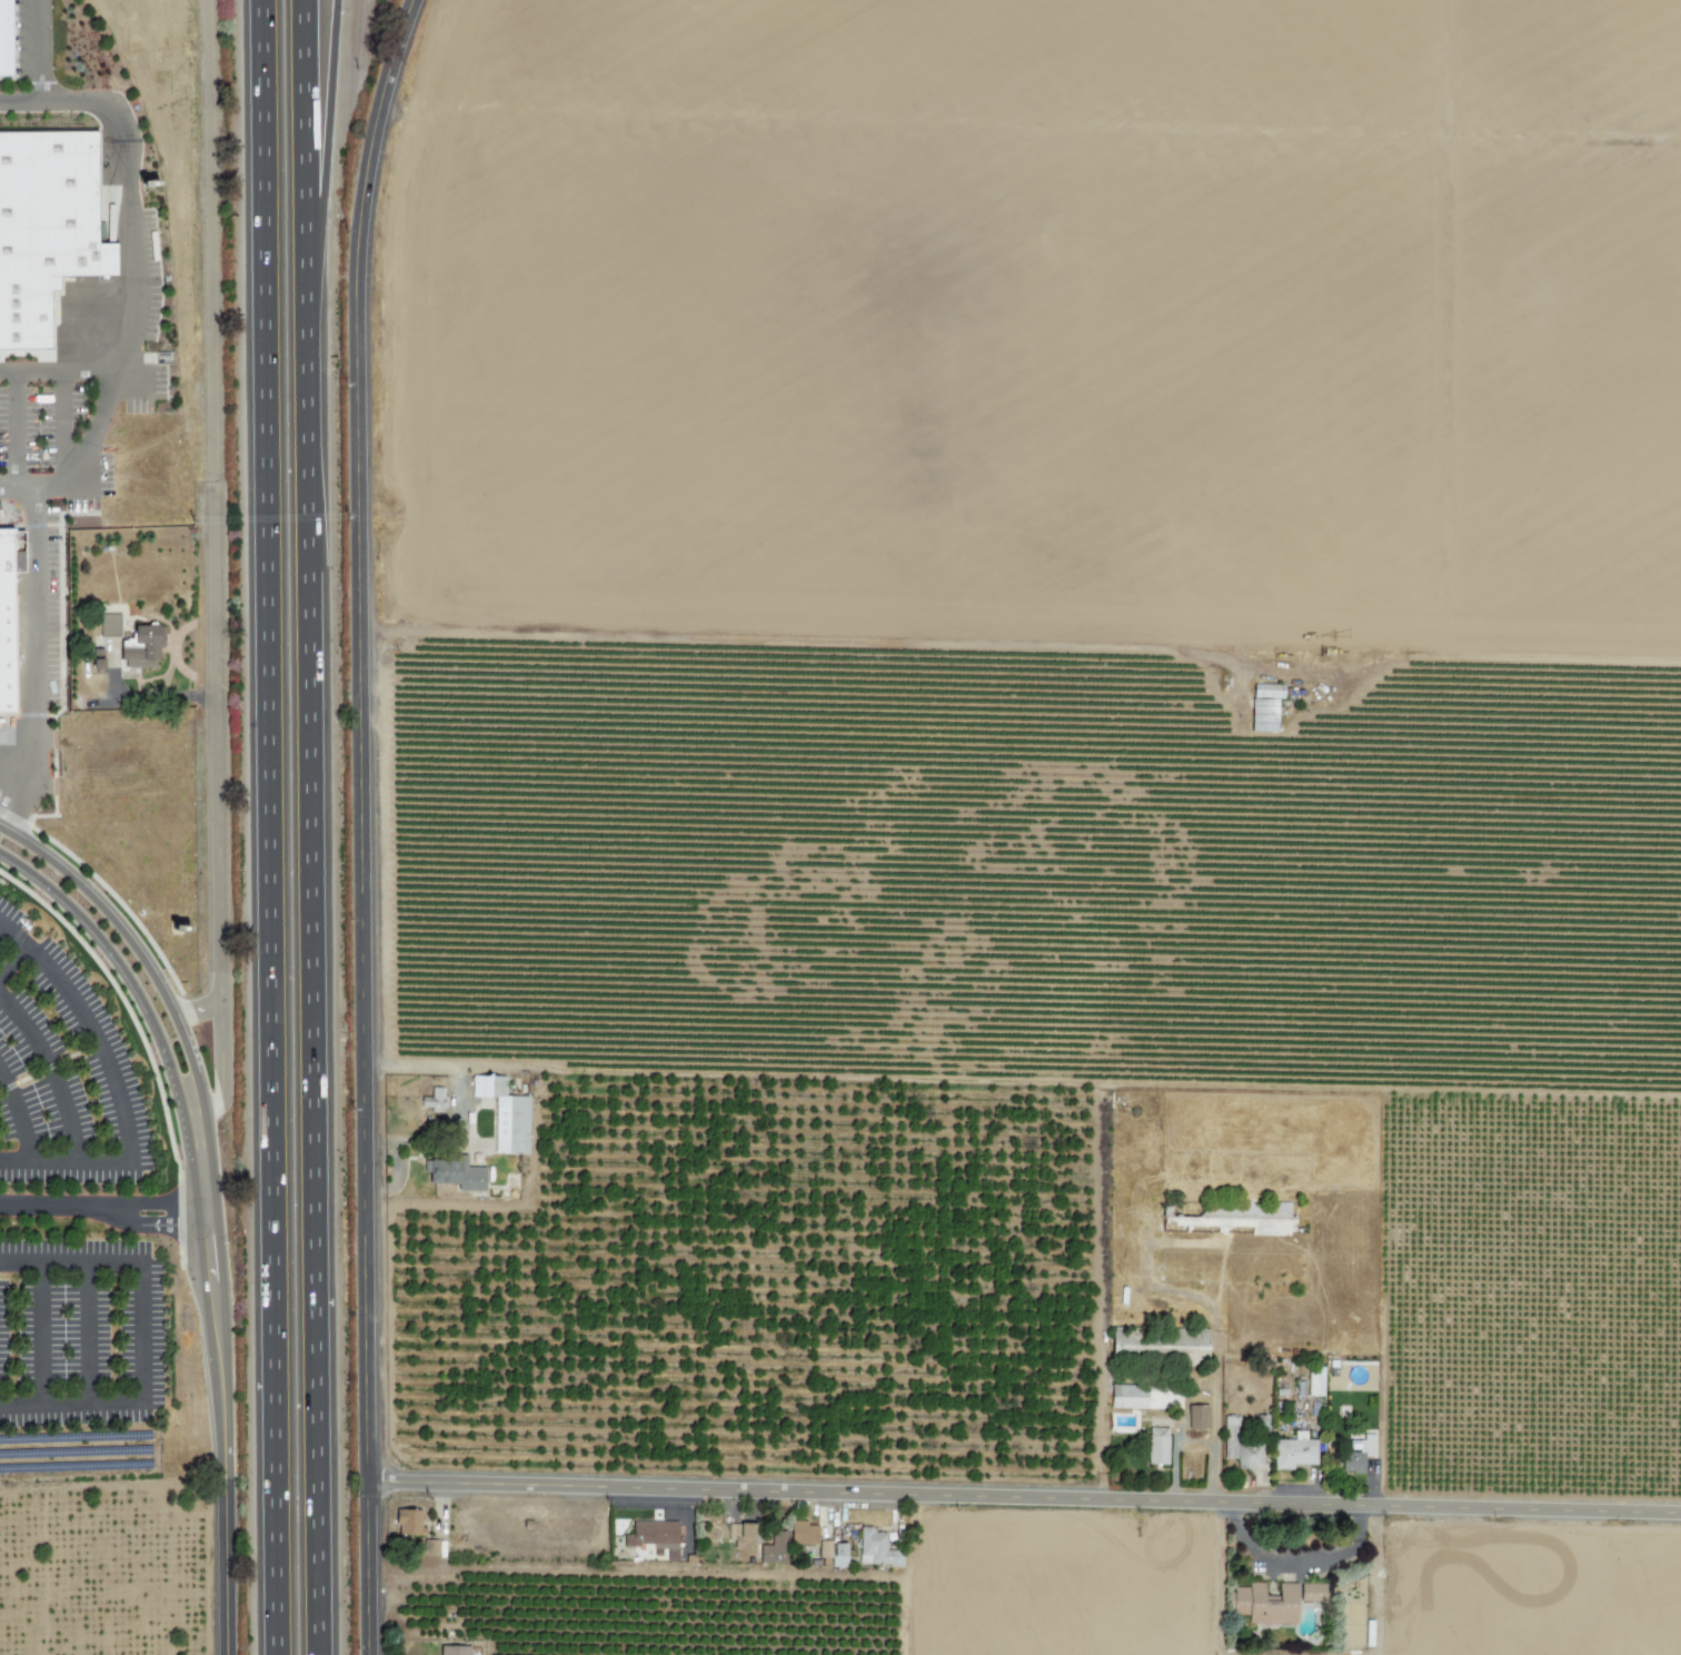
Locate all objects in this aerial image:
building: (4, 37)
road: (40, 48)
road: (57, 97)
road: (321, 126)
building: (44, 227)
road: (131, 333)
road: (59, 368)
road: (64, 425)
road: (14, 430)
road: (217, 564)
building: (6, 618)
building: (109, 625)
road: (798, 637)
building: (140, 646)
road: (38, 655)
building: (97, 658)
building: (1266, 691)
road: (151, 703)
building: (1263, 715)
road: (11, 775)
road: (361, 823)
road: (271, 826)
road: (314, 827)
road: (14, 960)
road: (158, 985)
road: (142, 1002)
road: (197, 1009)
road: (91, 1029)
road: (427, 1063)
road: (52, 1070)
building: (432, 1100)
building: (504, 1113)
road: (18, 1116)
road: (66, 1161)
building: (454, 1173)
road: (153, 1202)
road: (52, 1207)
road: (205, 1215)
building: (1259, 1217)
road: (152, 1226)
road: (69, 1261)
road: (213, 1300)
road: (138, 1328)
road: (88, 1330)
road: (40, 1331)
building: (1162, 1344)
building: (1314, 1383)
building: (1127, 1396)
road: (69, 1399)
building: (1156, 1445)
building: (1239, 1445)
building: (1294, 1451)
building: (1356, 1455)
road: (1024, 1496)
road: (223, 1515)
building: (408, 1522)
building: (803, 1533)
building: (654, 1539)
building: (756, 1544)
building: (875, 1548)
building: (809, 1550)
building: (833, 1552)
road: (1297, 1559)
building: (1311, 1592)
building: (1264, 1604)
building: (452, 1649)

